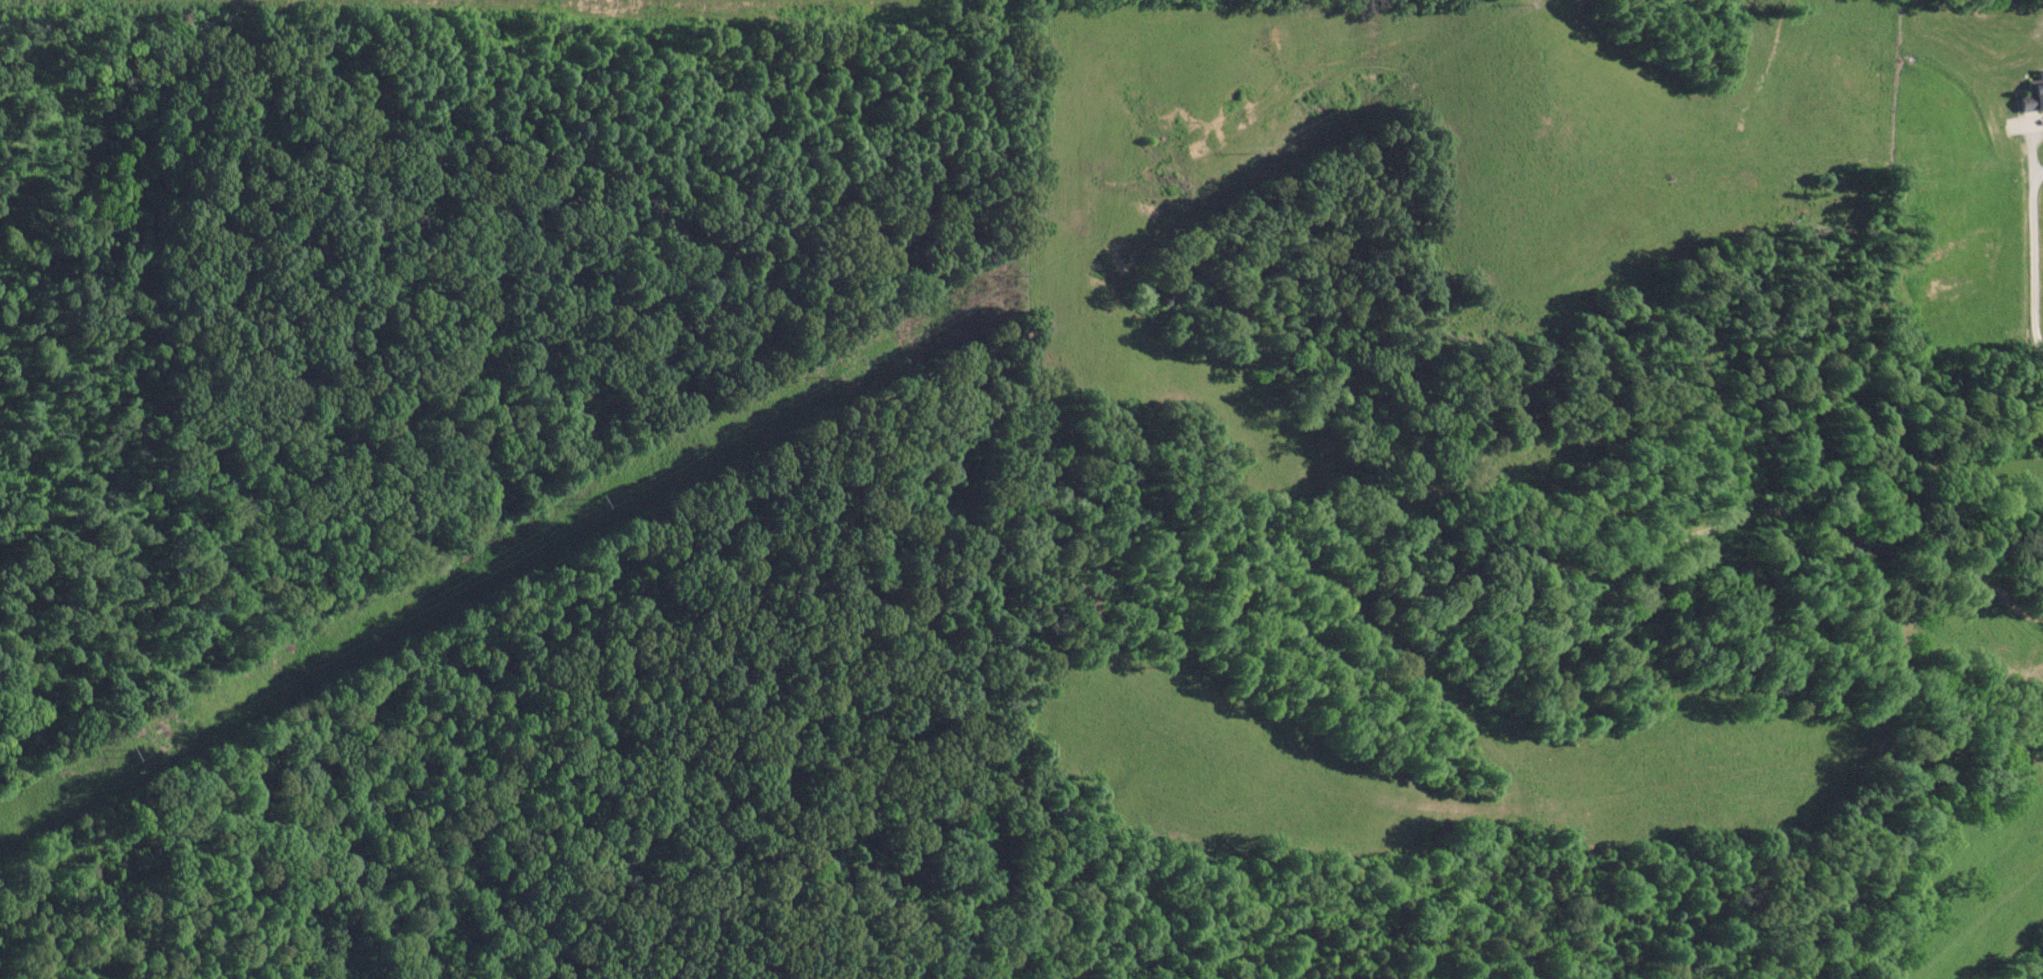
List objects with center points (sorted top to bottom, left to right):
building: (2034, 95)

